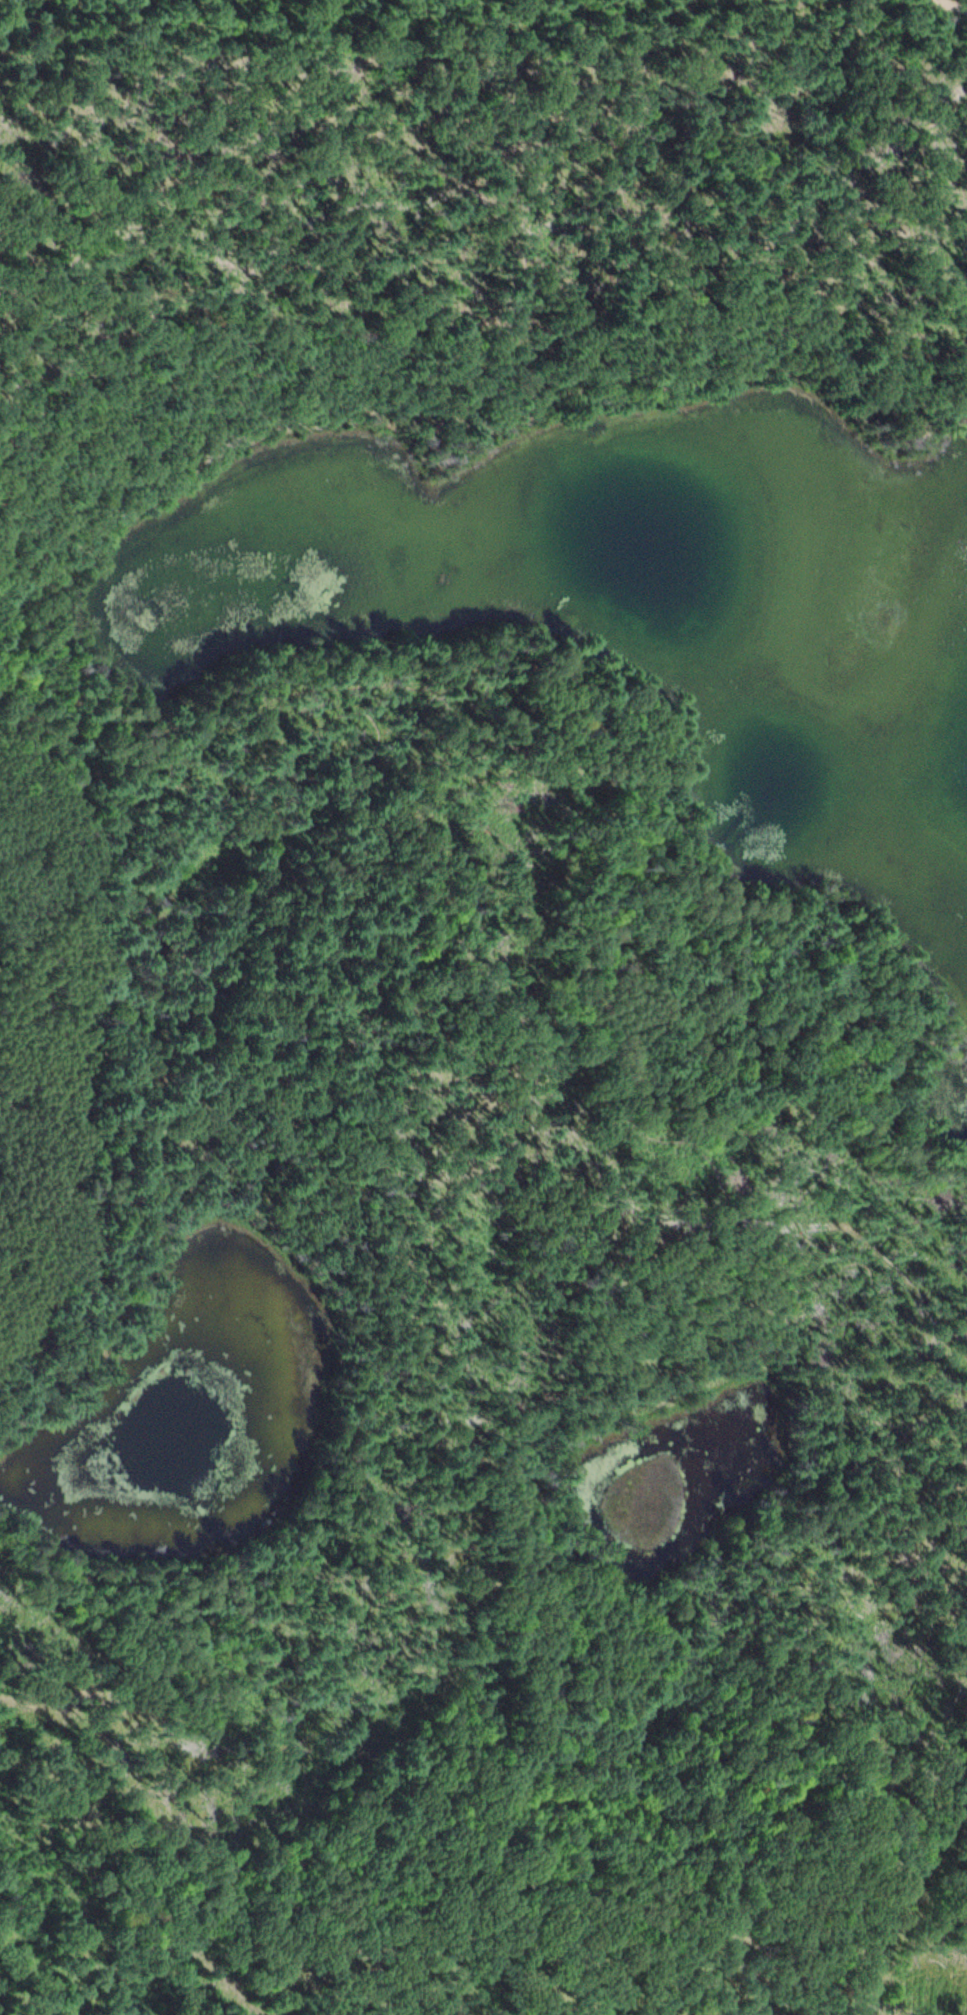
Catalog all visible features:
road: (957, 4)
road: (680, 1081)
road: (745, 1325)
road: (756, 1876)

